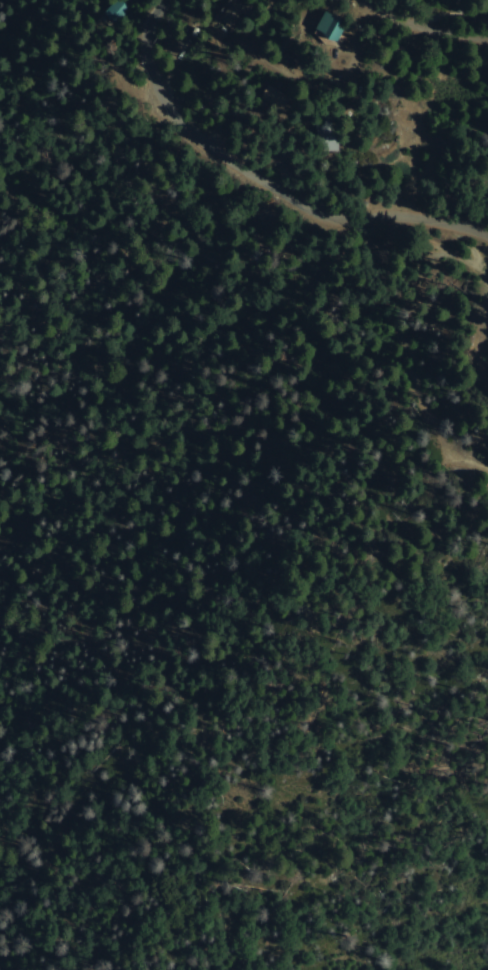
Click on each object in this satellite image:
building: (123, 11)
building: (240, 12)
building: (338, 27)
building: (287, 98)
road: (342, 216)

